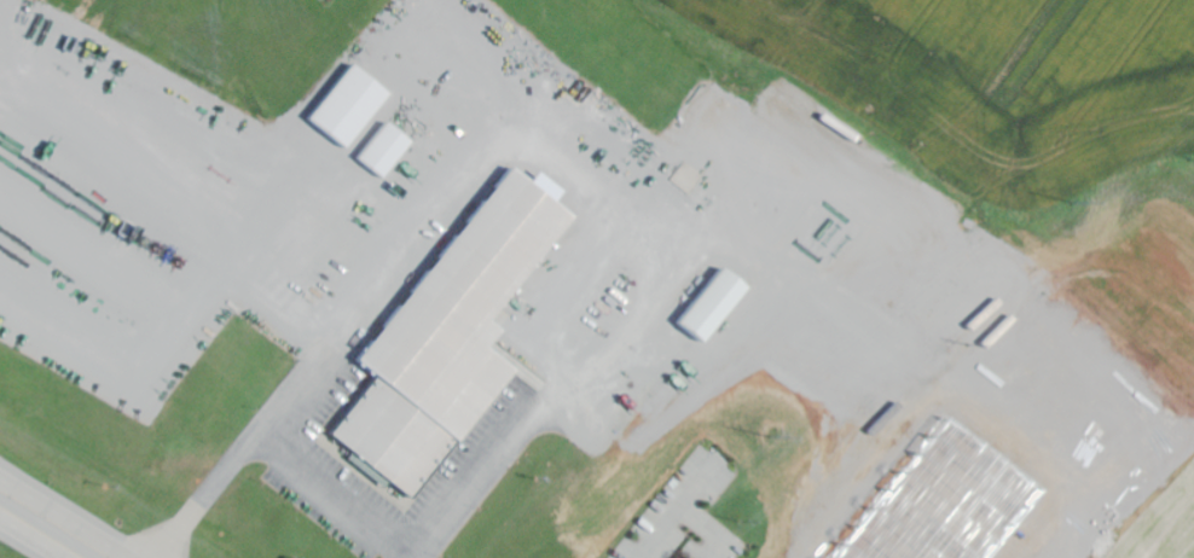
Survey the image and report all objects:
building: (344, 106)
building: (382, 151)
building: (708, 307)
building: (448, 341)
road: (47, 528)

